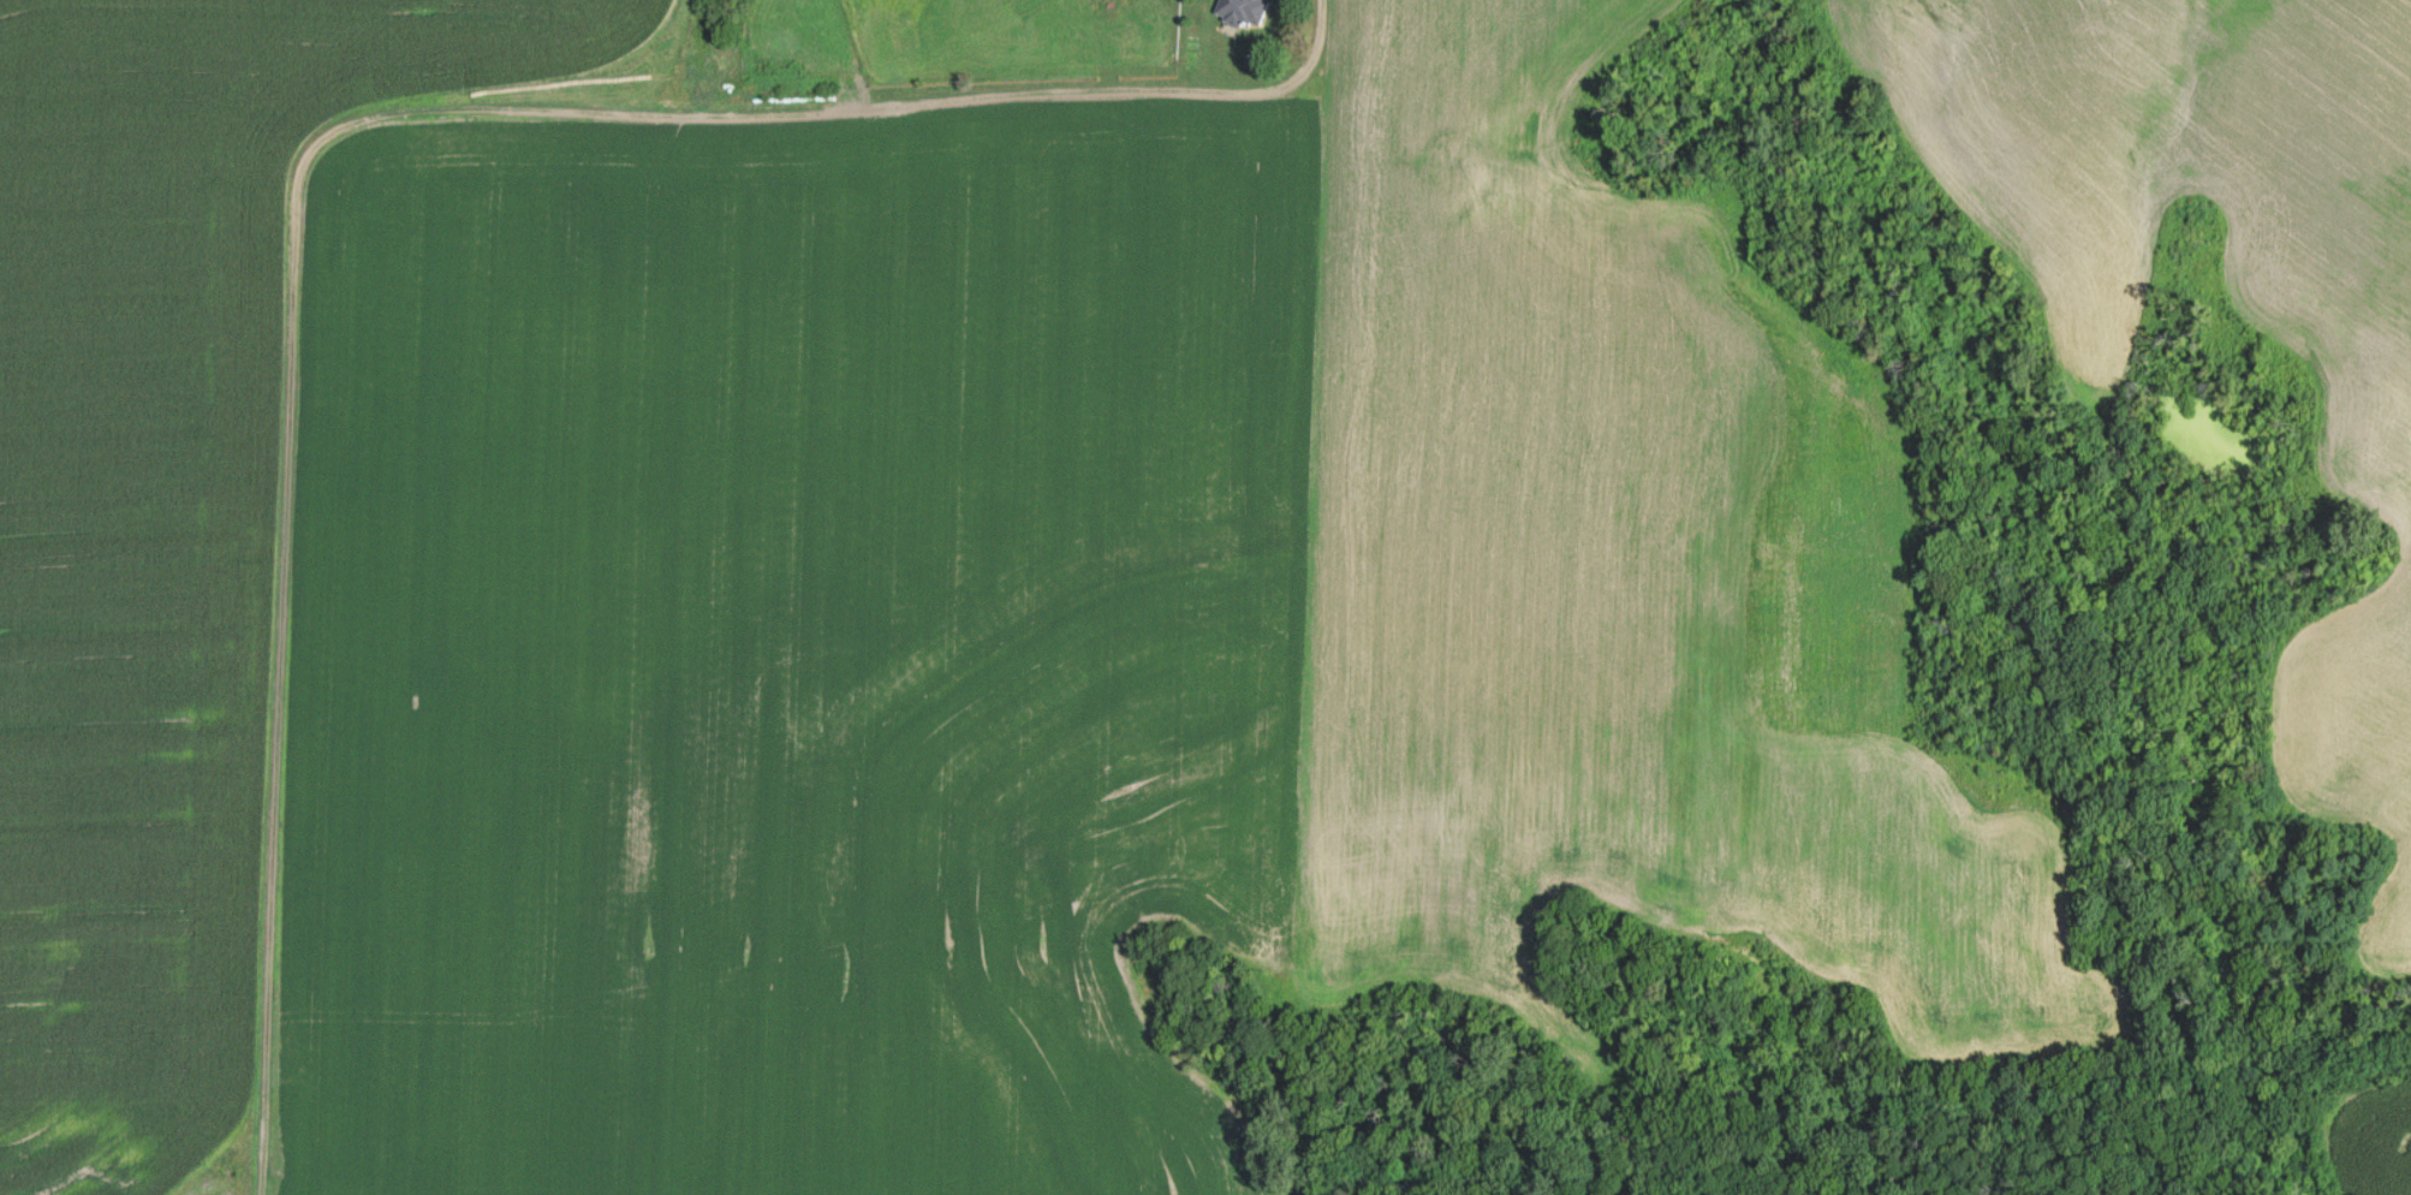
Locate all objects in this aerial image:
building: (1245, 11)
road: (319, 137)

